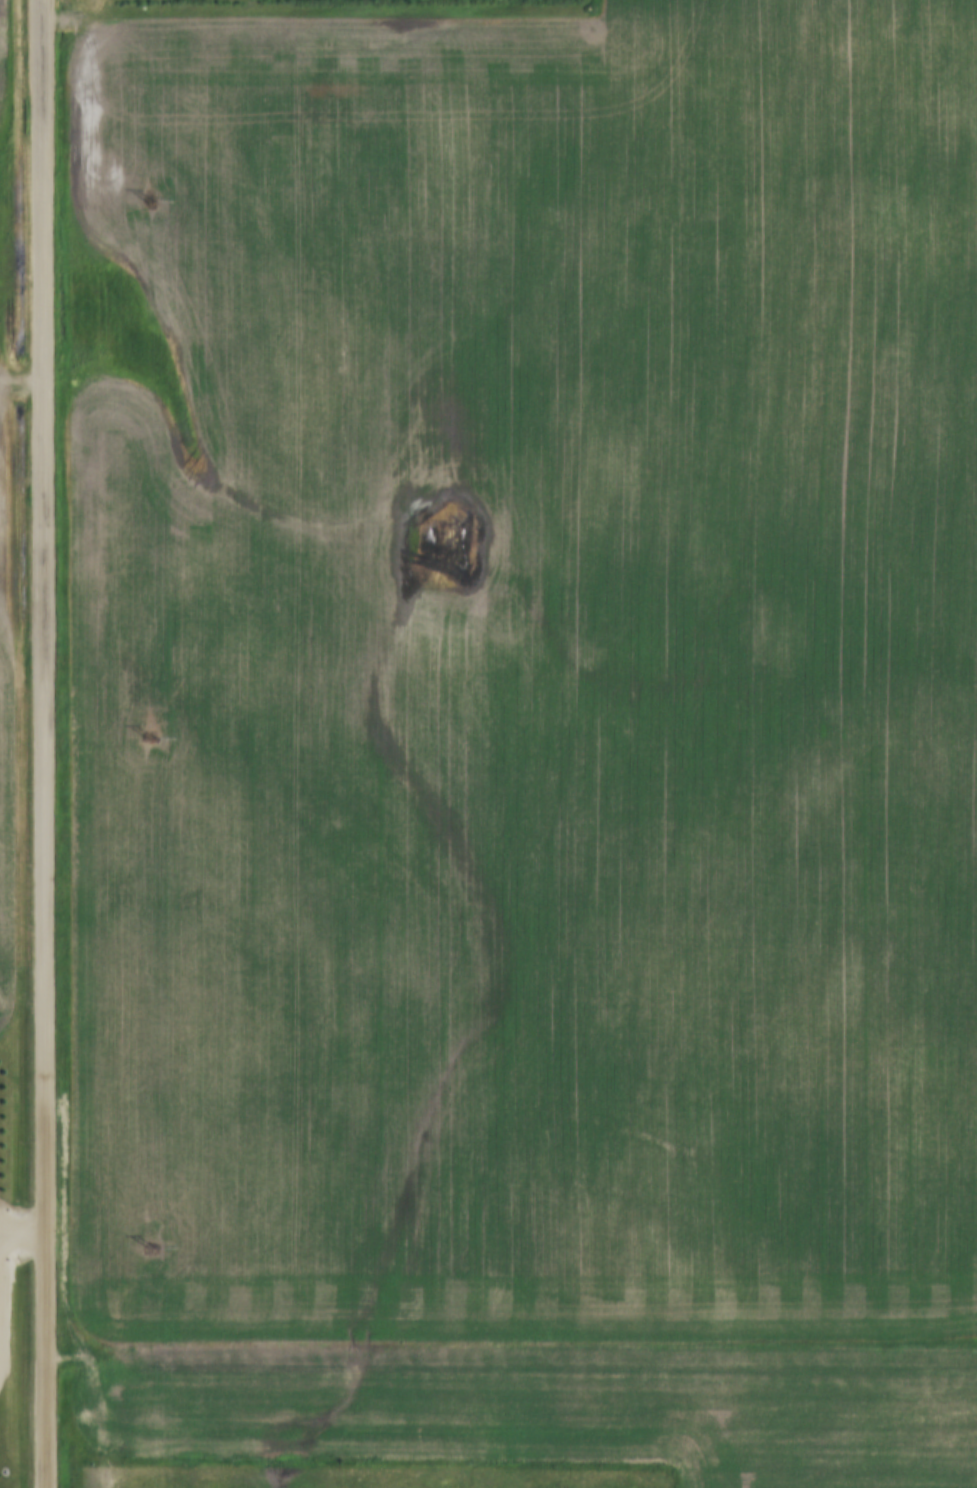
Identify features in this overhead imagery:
power tower: (149, 202)
power tower: (151, 741)
road: (45, 744)
power tower: (152, 1249)

